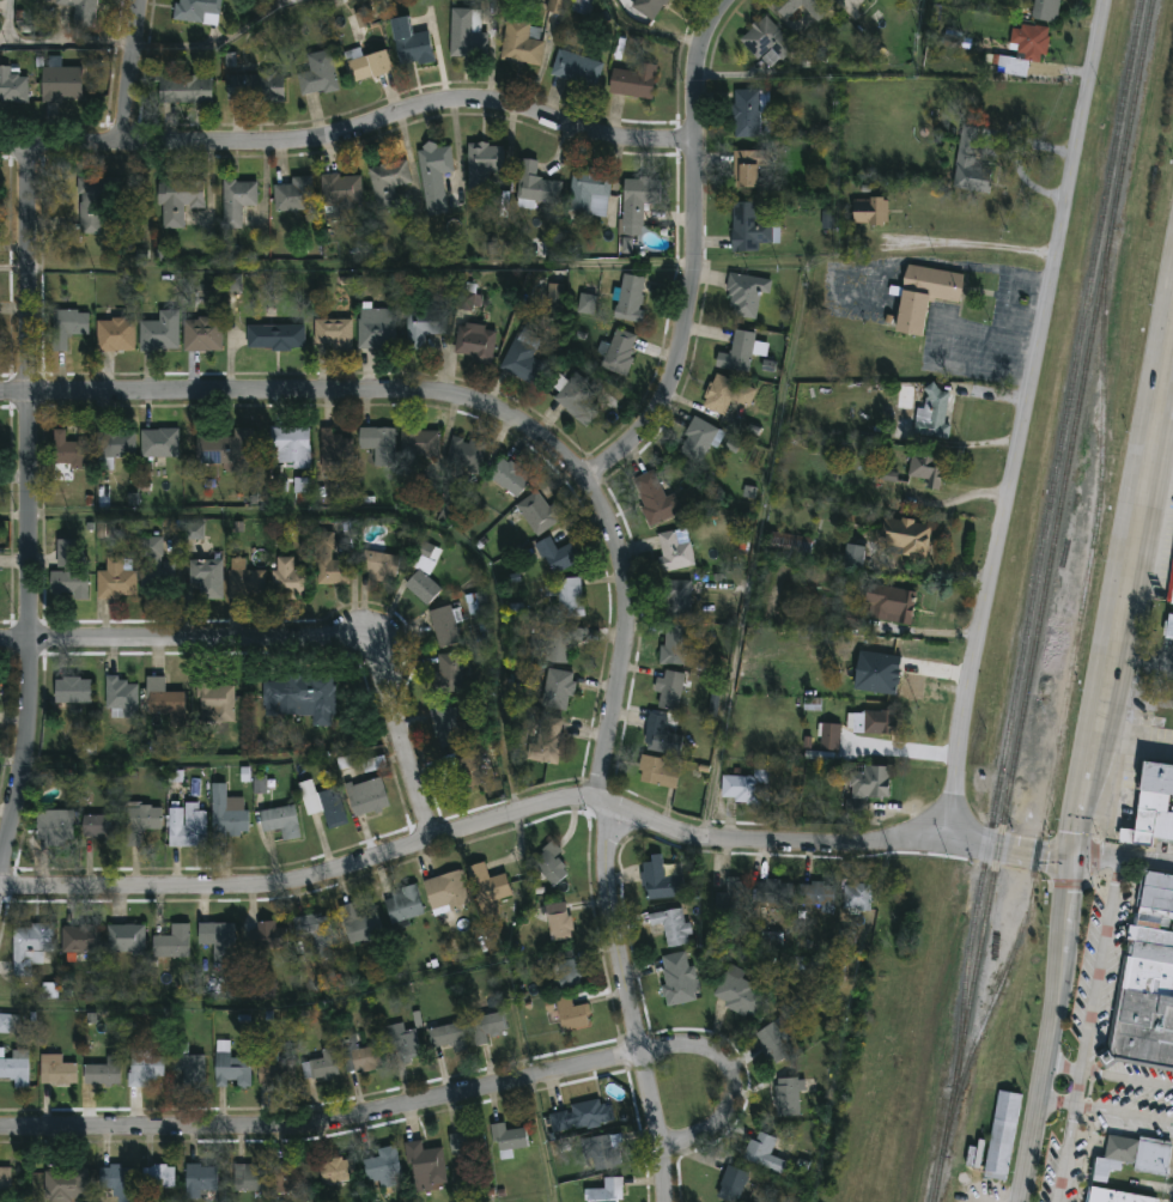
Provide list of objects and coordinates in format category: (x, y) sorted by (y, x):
building: (1017, 5)
building: (584, 6)
building: (646, 6)
building: (555, 7)
building: (79, 11)
building: (1045, 11)
building: (196, 12)
building: (816, 14)
road: (8, 22)
building: (466, 35)
road: (224, 42)
road: (68, 43)
building: (408, 43)
building: (521, 43)
building: (765, 43)
building: (1027, 48)
building: (365, 65)
building: (575, 67)
road: (133, 69)
building: (316, 73)
building: (59, 79)
building: (634, 80)
building: (254, 84)
building: (12, 85)
building: (182, 86)
building: (750, 113)
road: (352, 128)
building: (970, 160)
building: (482, 164)
building: (747, 166)
building: (433, 175)
building: (387, 180)
building: (534, 186)
building: (339, 189)
building: (292, 193)
building: (588, 193)
building: (178, 199)
building: (236, 200)
building: (637, 202)
building: (870, 210)
building: (827, 217)
building: (90, 218)
building: (748, 226)
building: (626, 245)
road: (971, 249)
road: (693, 254)
road: (633, 265)
road: (86, 269)
building: (225, 283)
building: (746, 291)
building: (924, 295)
building: (555, 297)
building: (627, 297)
building: (469, 300)
building: (586, 304)
building: (421, 323)
building: (66, 326)
building: (373, 327)
building: (159, 330)
building: (114, 333)
building: (202, 333)
building: (333, 333)
building: (274, 335)
building: (475, 344)
building: (735, 348)
building: (618, 351)
building: (522, 356)
road: (303, 390)
building: (725, 393)
building: (575, 396)
building: (932, 412)
road: (1019, 418)
building: (699, 438)
building: (417, 441)
building: (158, 442)
road: (1160, 442)
building: (114, 443)
building: (378, 443)
building: (290, 445)
building: (68, 449)
building: (227, 450)
building: (334, 451)
building: (466, 454)
building: (925, 467)
building: (889, 475)
building: (509, 476)
building: (655, 499)
building: (455, 504)
building: (536, 512)
road: (31, 516)
railway: (1045, 521)
building: (194, 530)
building: (904, 535)
building: (789, 545)
building: (673, 551)
building: (66, 553)
building: (557, 554)
building: (852, 556)
building: (329, 561)
building: (152, 564)
building: (378, 564)
building: (423, 569)
building: (206, 576)
building: (115, 578)
building: (287, 578)
building: (243, 579)
building: (69, 583)
building: (1171, 587)
building: (566, 596)
building: (676, 597)
railway: (1041, 600)
building: (893, 602)
building: (853, 619)
building: (444, 625)
building: (1169, 626)
building: (552, 643)
road: (288, 644)
building: (673, 644)
building: (887, 655)
road: (1141, 658)
building: (446, 673)
building: (557, 690)
building: (669, 690)
building: (73, 691)
building: (118, 696)
building: (162, 697)
building: (302, 697)
building: (212, 700)
building: (713, 705)
railway: (1063, 709)
building: (874, 722)
building: (444, 724)
building: (661, 735)
building: (829, 735)
building: (546, 740)
road: (1134, 741)
road: (1090, 752)
building: (819, 755)
building: (464, 766)
building: (658, 771)
building: (869, 782)
building: (260, 784)
building: (747, 787)
building: (366, 796)
building: (323, 803)
building: (1153, 807)
building: (853, 808)
building: (227, 815)
building: (142, 819)
building: (281, 821)
building: (188, 826)
building: (56, 827)
building: (102, 827)
road: (478, 833)
road: (602, 834)
road: (1060, 851)
traffic signals: (1071, 852)
building: (549, 863)
building: (658, 882)
building: (486, 888)
building: (445, 892)
building: (773, 893)
building: (733, 896)
building: (818, 896)
building: (857, 897)
building: (403, 905)
building: (558, 919)
building: (673, 925)
building: (364, 929)
building: (318, 933)
building: (269, 935)
building: (80, 939)
building: (124, 939)
building: (218, 939)
building: (771, 940)
building: (172, 942)
building: (30, 946)
building: (797, 964)
road: (1100, 964)
building: (835, 970)
building: (565, 972)
building: (676, 979)
building: (1147, 985)
building: (739, 991)
building: (572, 1014)
building: (10, 1024)
building: (486, 1027)
building: (772, 1036)
building: (449, 1037)
building: (401, 1043)
building: (359, 1055)
building: (188, 1064)
building: (321, 1066)
road: (1064, 1066)
building: (16, 1067)
building: (144, 1067)
building: (57, 1070)
building: (231, 1070)
building: (275, 1070)
building: (103, 1072)
road: (1128, 1077)
road: (736, 1080)
road: (1078, 1087)
building: (786, 1095)
road: (1106, 1111)
building: (582, 1115)
road: (324, 1127)
building: (1003, 1135)
building: (508, 1139)
building: (468, 1146)
building: (762, 1152)
building: (602, 1153)
road: (1066, 1154)
building: (1139, 1154)
building: (426, 1166)
building: (387, 1167)
building: (340, 1172)
building: (158, 1177)
building: (249, 1178)
building: (5, 1179)
building: (114, 1179)
building: (200, 1179)
building: (292, 1179)
building: (731, 1184)
building: (66, 1185)
building: (607, 1191)
building: (1110, 1195)

